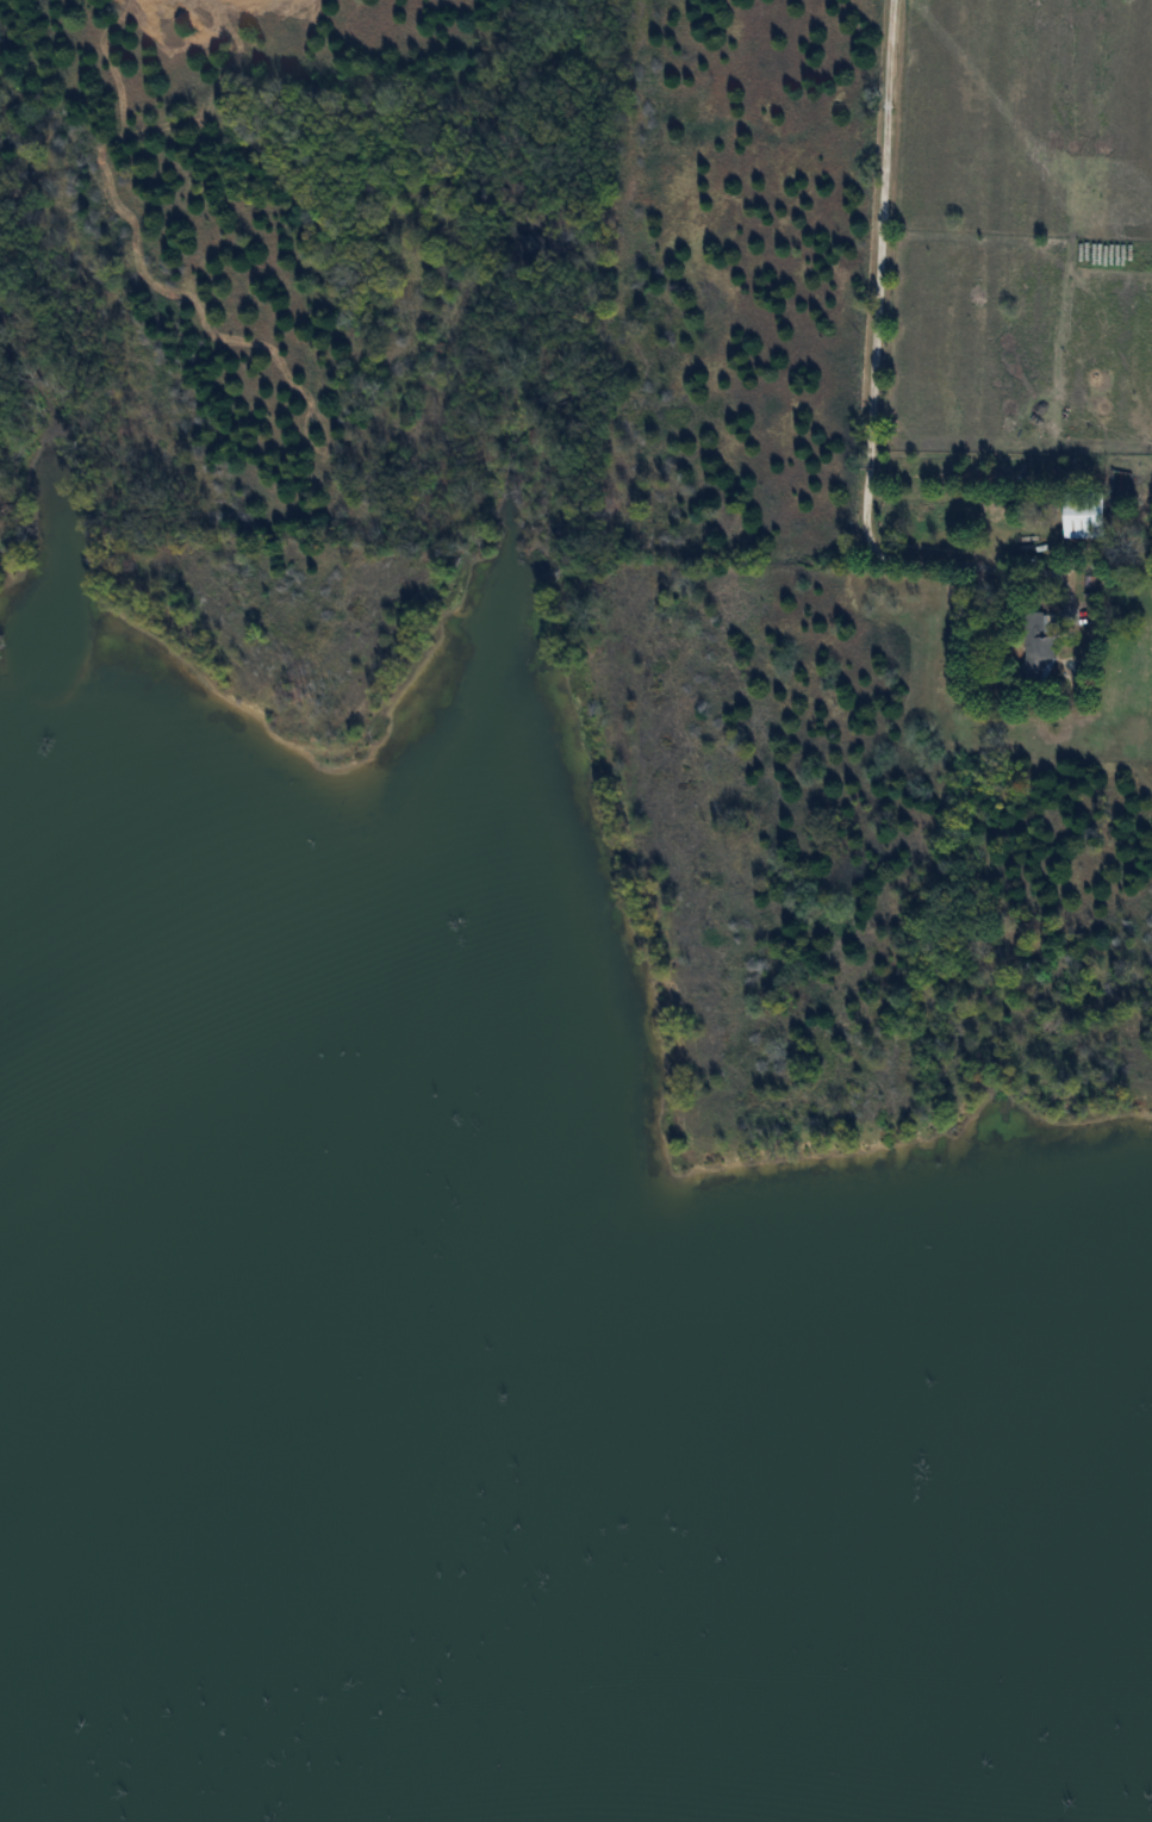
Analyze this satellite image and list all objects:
road: (868, 373)
building: (1078, 509)
building: (1036, 651)

